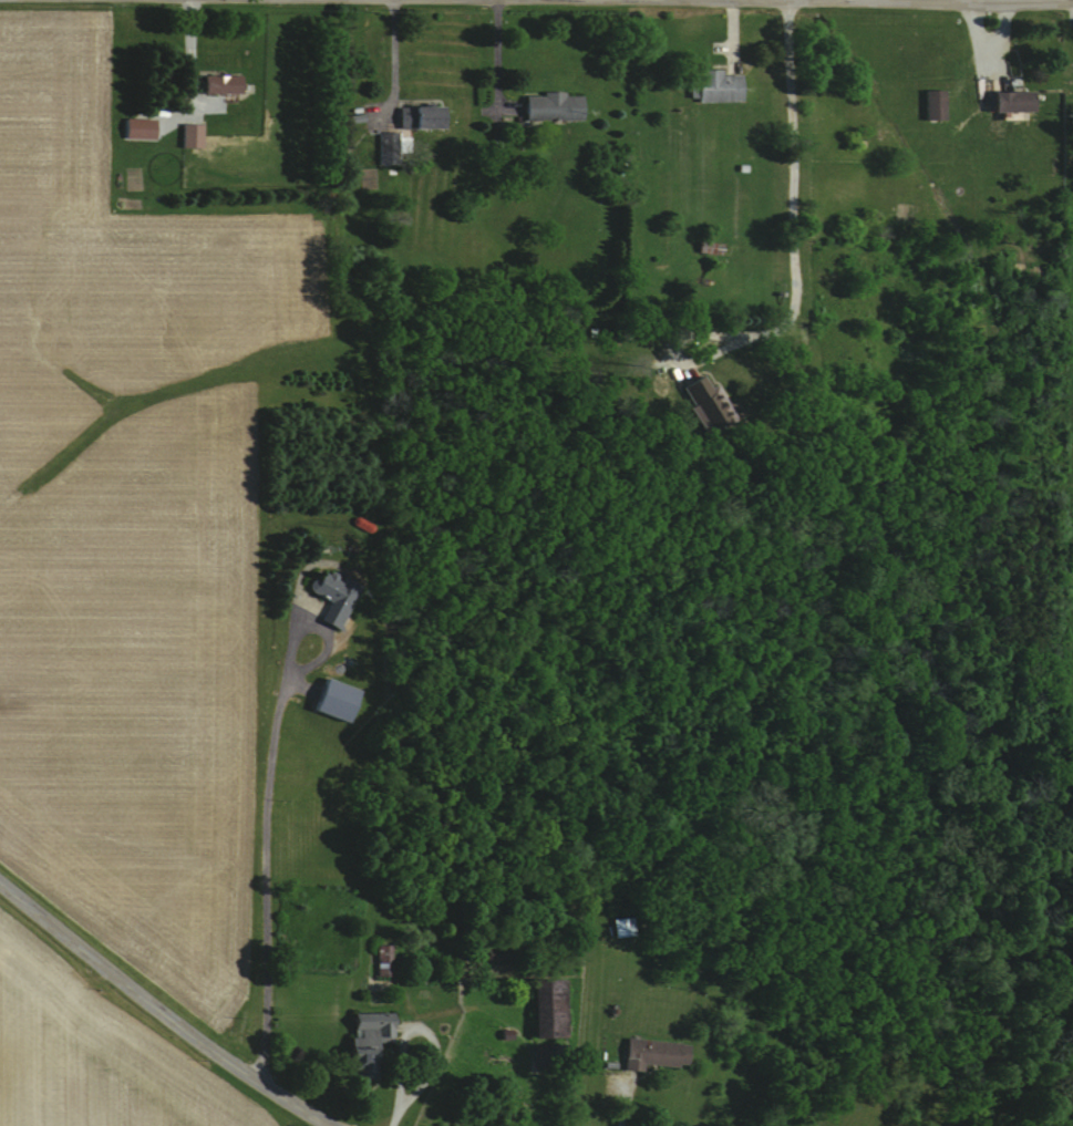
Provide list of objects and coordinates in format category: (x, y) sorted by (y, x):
road: (920, 2)
road: (391, 52)
building: (219, 84)
building: (714, 87)
building: (1009, 102)
building: (931, 105)
building: (548, 107)
building: (415, 118)
building: (136, 130)
building: (188, 135)
building: (385, 148)
road: (792, 267)
building: (703, 401)
building: (330, 596)
building: (332, 699)
road: (265, 868)
building: (620, 927)
building: (493, 954)
building: (381, 961)
building: (545, 1008)
road: (159, 1012)
road: (421, 1027)
building: (363, 1036)
building: (651, 1053)
road: (623, 1102)
road: (392, 1115)

